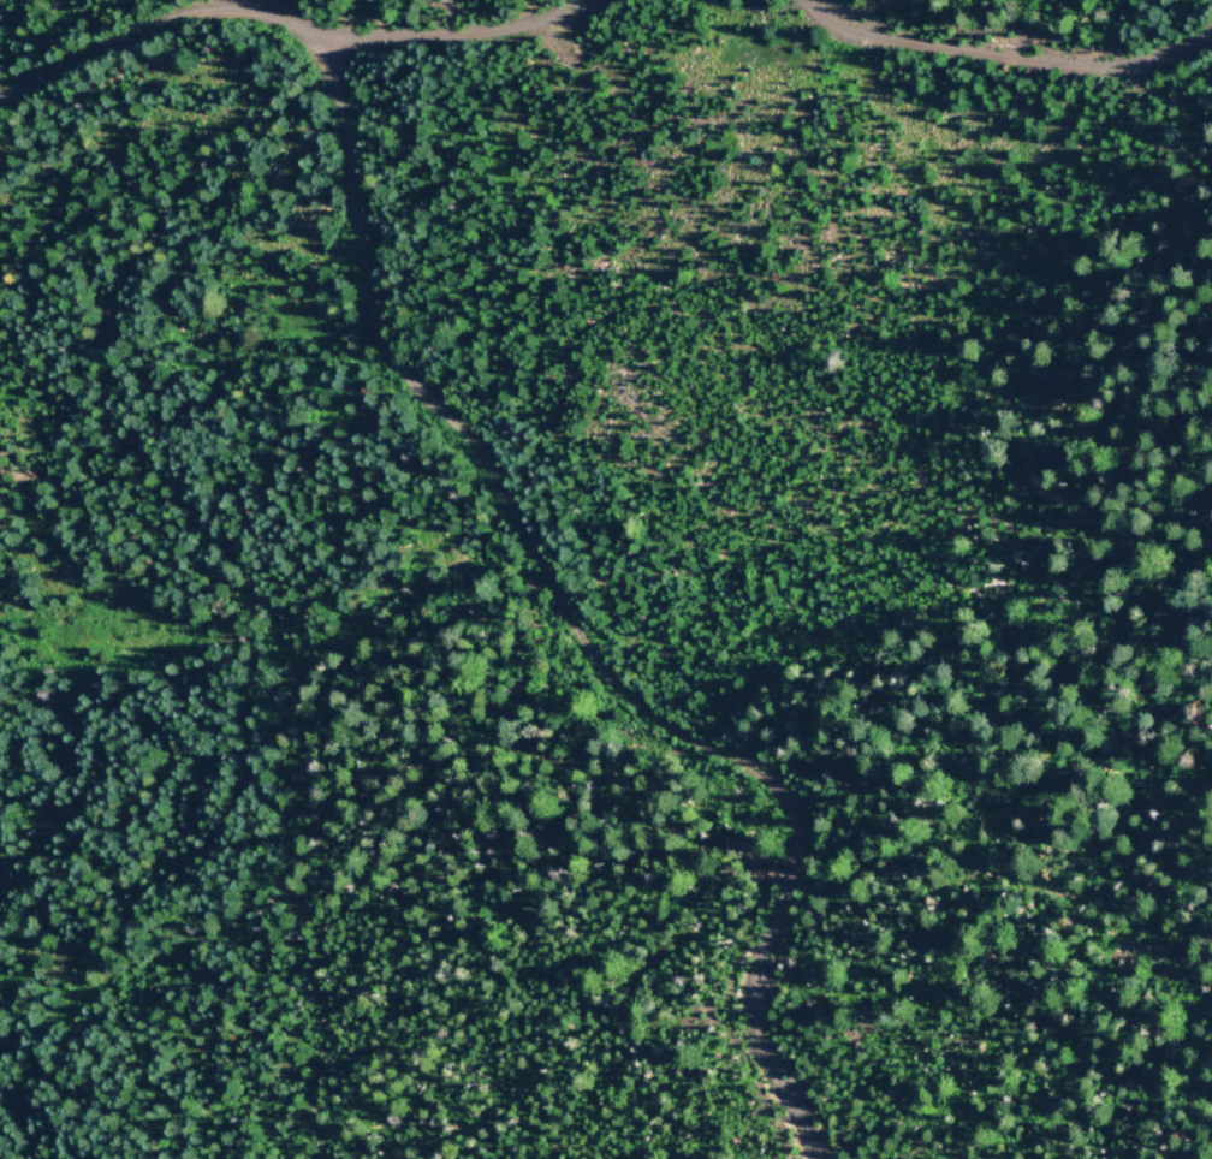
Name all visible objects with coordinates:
road: (447, 38)
road: (1012, 63)
road: (494, 475)

